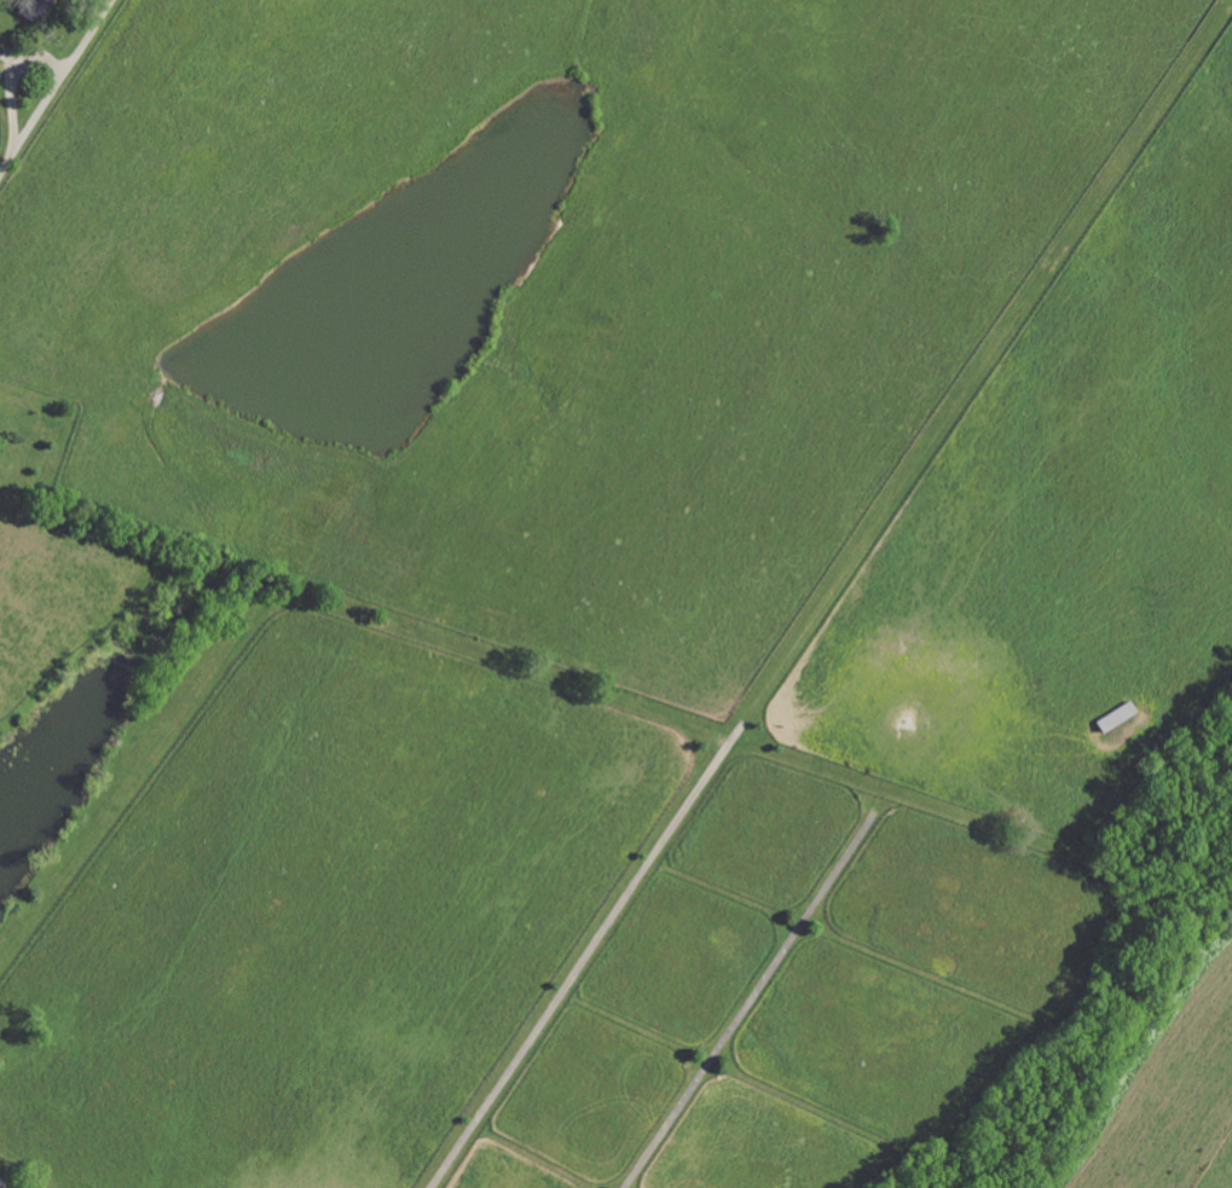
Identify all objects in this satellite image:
road: (56, 86)
road: (0, 1187)

